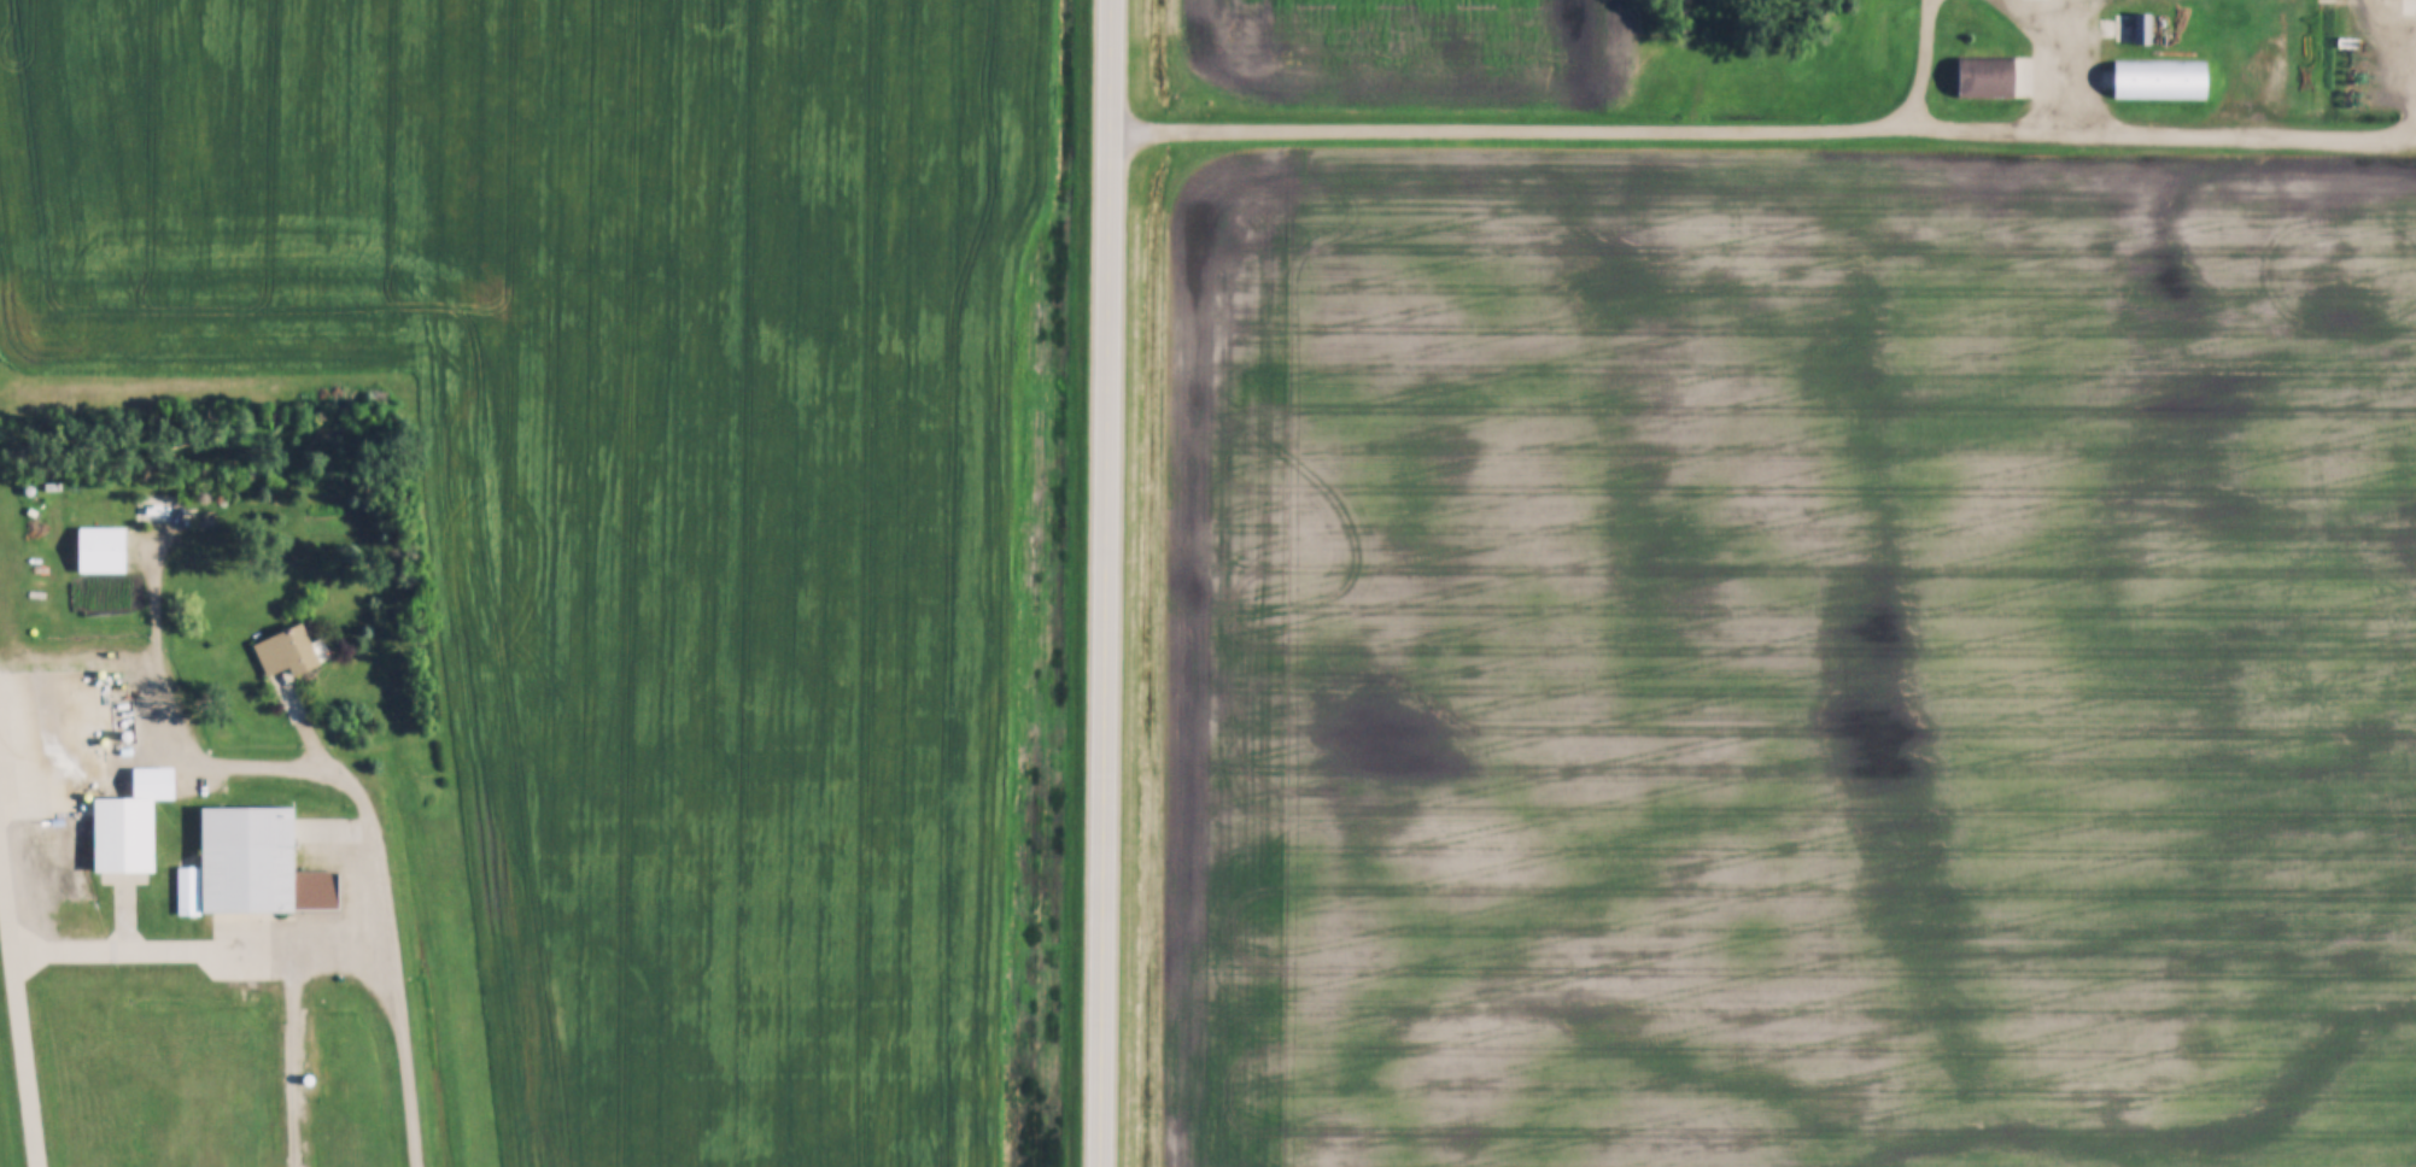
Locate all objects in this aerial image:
building: (2110, 27)
silo: (2110, 27)
building: (2142, 28)
road: (2060, 49)
road: (1919, 65)
road: (2412, 72)
building: (1984, 76)
building: (2158, 78)
road: (1761, 129)
road: (2412, 139)
building: (101, 547)
road: (1105, 582)
road: (164, 647)
building: (288, 650)
airport: (228, 781)
road: (362, 796)
building: (130, 821)
building: (252, 866)
road: (42, 869)
road: (329, 950)
airport taxiway: (128, 952)
road: (343, 967)
airport runway: (23, 984)
building: (303, 1004)
building: (314, 1061)
silo: (314, 1061)
road: (296, 1067)
building: (315, 1073)
silo: (315, 1073)
building: (316, 1086)
silo: (316, 1086)

